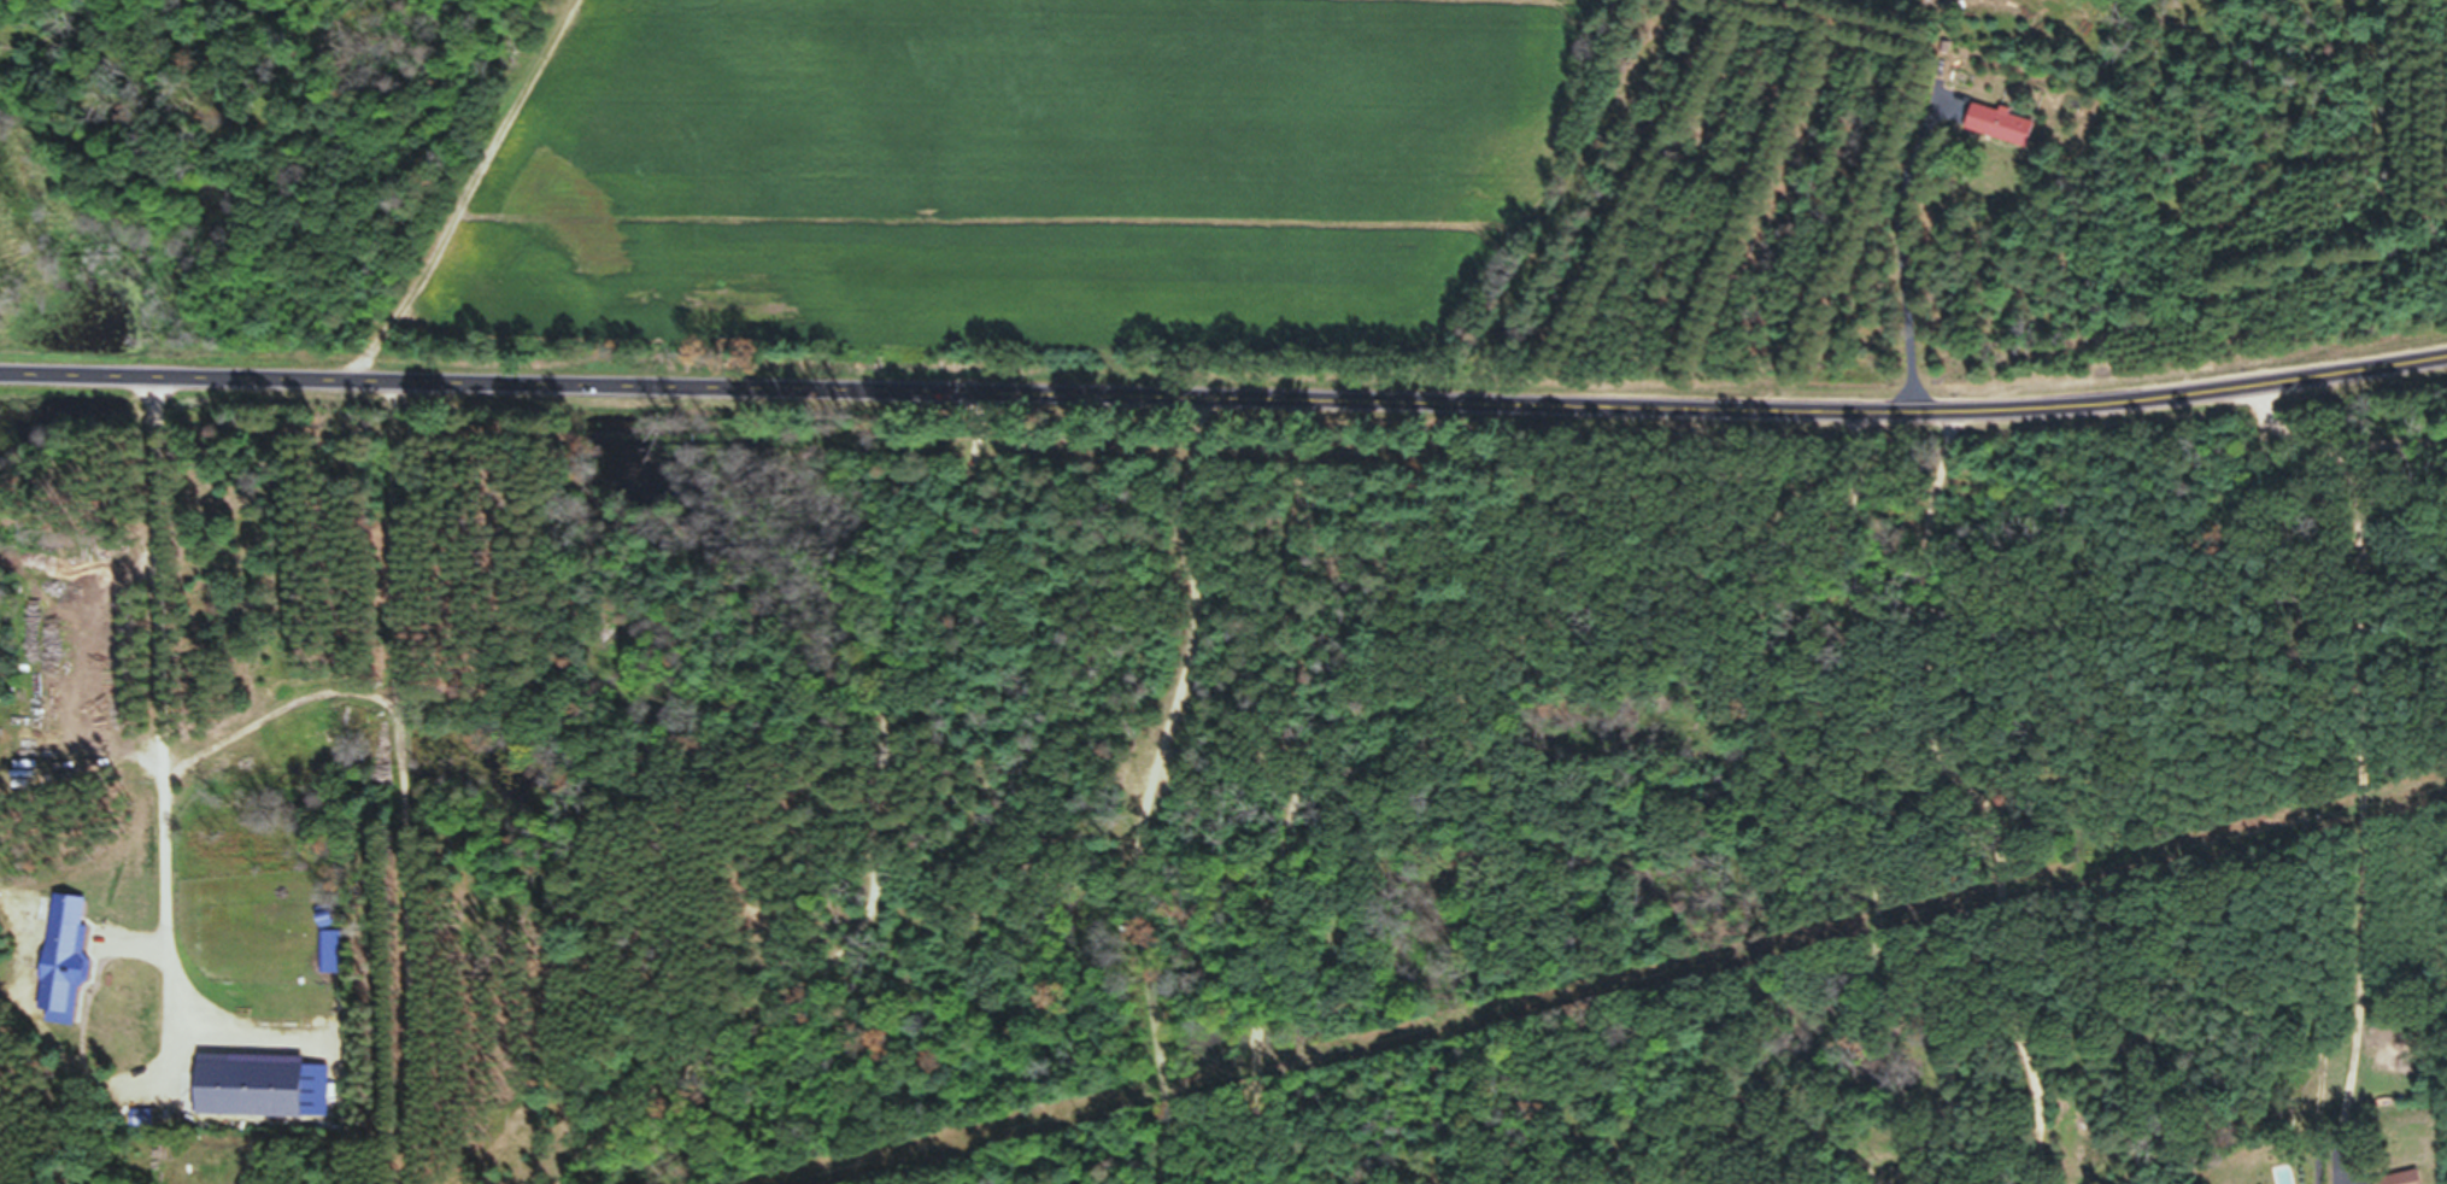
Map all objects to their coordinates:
building: (1999, 134)
road: (1902, 254)
road: (1226, 395)
road: (164, 779)
road: (2007, 837)
building: (2381, 1112)

